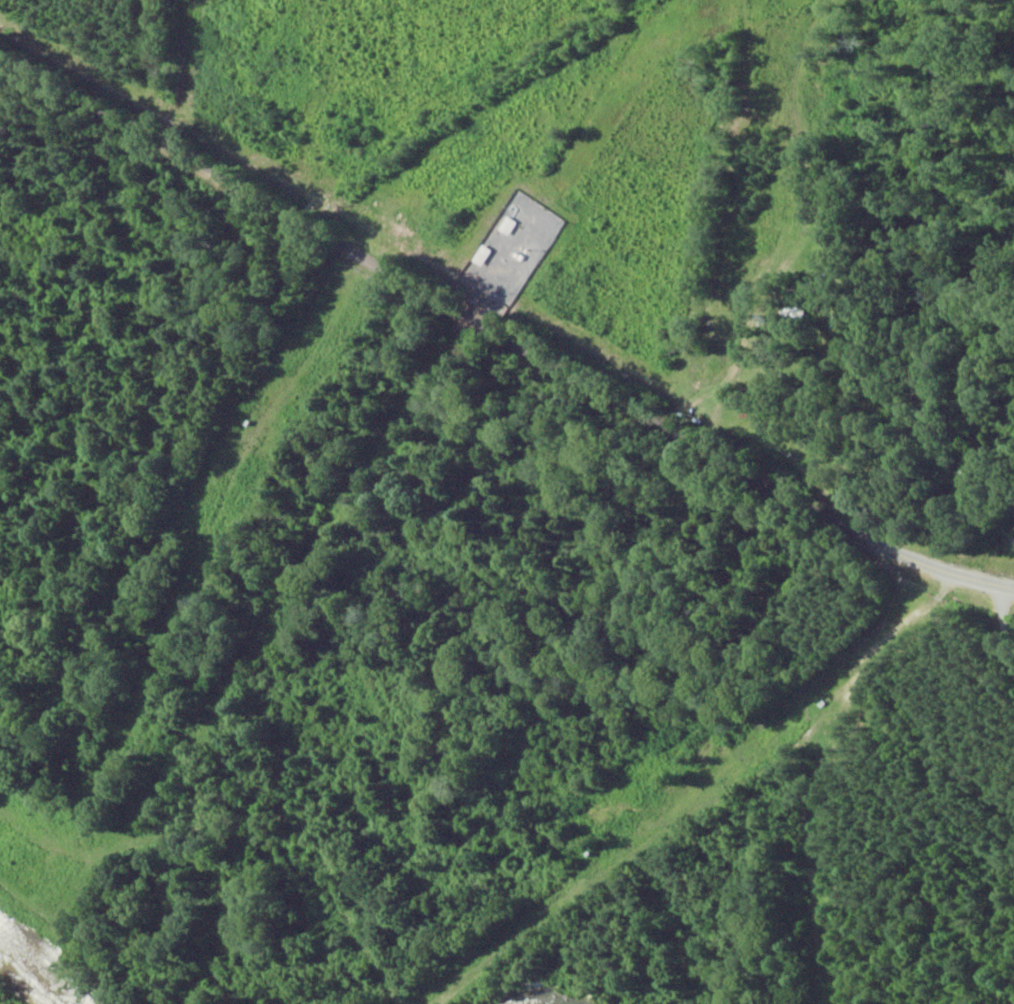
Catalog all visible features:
road: (499, 388)

